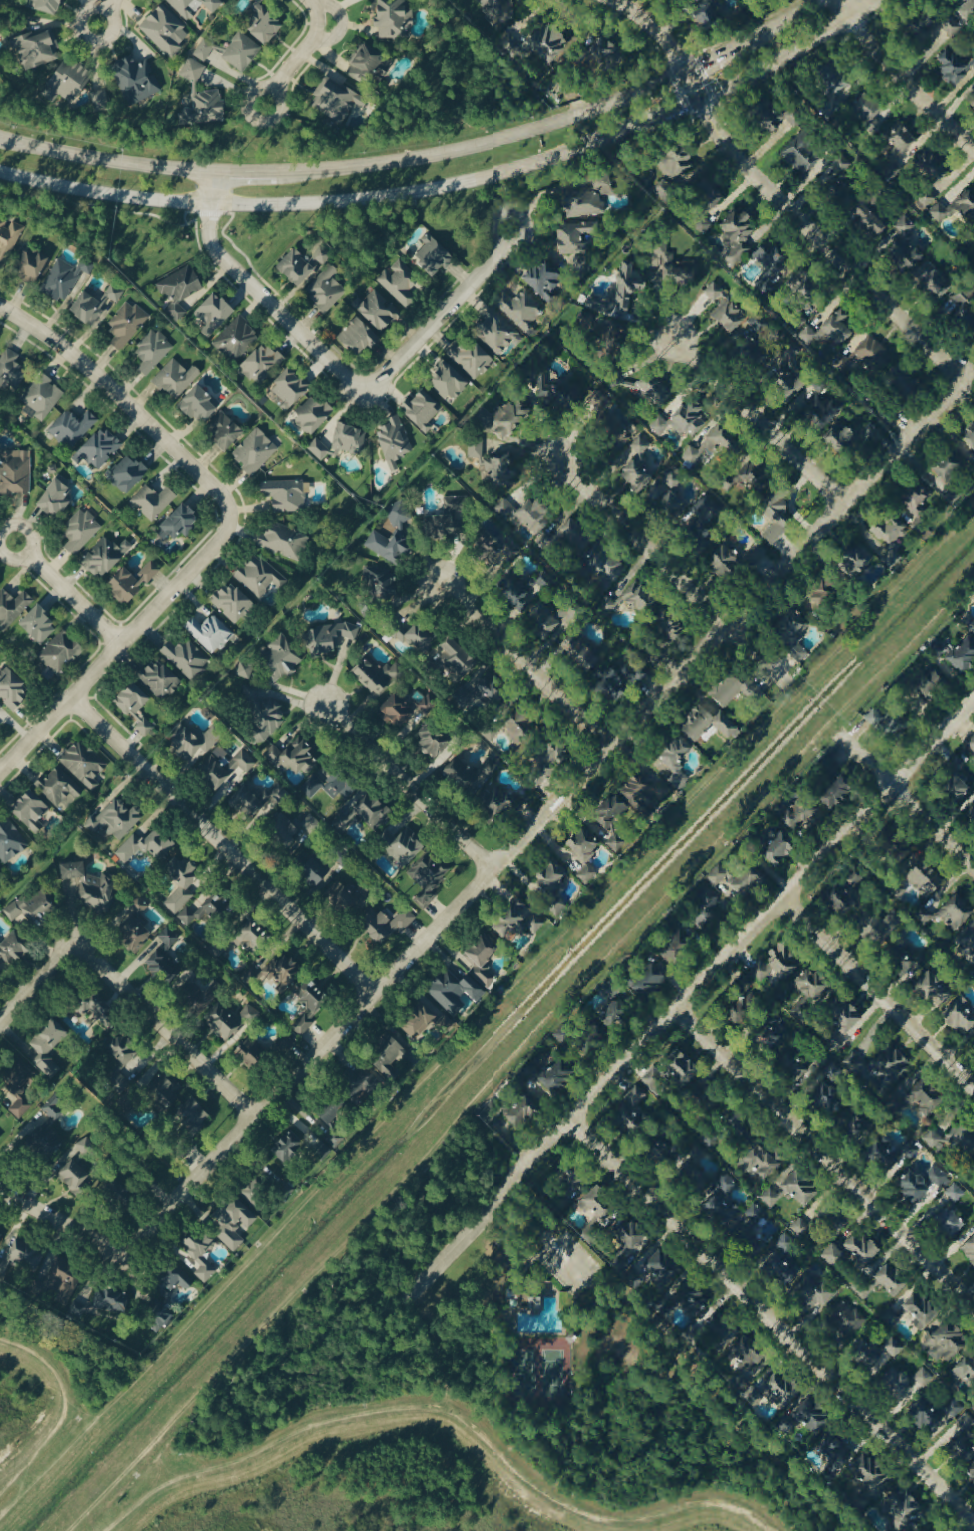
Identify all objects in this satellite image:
building: (47, 5)
building: (195, 6)
road: (843, 9)
road: (863, 9)
building: (499, 10)
building: (969, 11)
road: (106, 12)
building: (712, 17)
building: (395, 18)
building: (265, 22)
building: (943, 25)
building: (166, 31)
road: (663, 39)
building: (38, 48)
building: (205, 49)
building: (609, 49)
building: (244, 51)
road: (304, 52)
road: (775, 60)
building: (370, 63)
building: (973, 64)
building: (955, 67)
traffic signals: (686, 71)
building: (69, 80)
building: (136, 80)
building: (839, 80)
road: (908, 89)
building: (203, 96)
building: (972, 98)
building: (100, 100)
building: (341, 100)
traffic signals: (701, 100)
building: (871, 108)
road: (676, 111)
building: (778, 116)
road: (529, 131)
building: (898, 149)
building: (805, 153)
road: (105, 162)
building: (679, 164)
building: (935, 166)
building: (669, 192)
building: (714, 193)
building: (590, 198)
building: (930, 199)
road: (330, 208)
building: (954, 209)
building: (873, 221)
building: (741, 226)
building: (907, 226)
building: (9, 237)
building: (575, 241)
road: (826, 246)
building: (435, 254)
building: (775, 258)
building: (32, 264)
building: (303, 265)
building: (923, 269)
building: (681, 274)
building: (66, 277)
building: (547, 279)
building: (400, 282)
building: (768, 282)
building: (632, 286)
building: (181, 289)
building: (327, 289)
road: (258, 296)
building: (97, 303)
building: (607, 307)
building: (966, 308)
building: (522, 309)
building: (378, 310)
building: (216, 311)
building: (728, 311)
road: (443, 315)
building: (127, 323)
building: (840, 328)
building: (615, 332)
building: (498, 333)
building: (358, 336)
building: (811, 337)
building: (238, 338)
building: (153, 351)
building: (867, 357)
building: (473, 358)
building: (263, 362)
building: (12, 369)
building: (177, 378)
building: (794, 378)
building: (451, 381)
building: (908, 382)
building: (290, 389)
building: (657, 390)
building: (563, 397)
building: (42, 398)
building: (599, 400)
building: (200, 403)
road: (124, 404)
building: (423, 410)
building: (826, 410)
building: (314, 414)
building: (509, 418)
road: (763, 419)
building: (684, 420)
building: (73, 427)
building: (226, 430)
building: (621, 435)
building: (865, 435)
building: (971, 438)
building: (342, 441)
building: (395, 441)
building: (642, 446)
building: (714, 447)
building: (99, 448)
building: (255, 451)
building: (495, 465)
building: (948, 468)
building: (15, 472)
building: (130, 472)
building: (638, 474)
building: (757, 475)
building: (677, 479)
building: (663, 490)
building: (287, 495)
building: (56, 499)
building: (153, 501)
building: (920, 504)
building: (676, 505)
building: (703, 514)
building: (528, 515)
building: (453, 516)
building: (780, 517)
building: (180, 522)
building: (80, 531)
building: (375, 531)
building: (892, 531)
building: (571, 538)
building: (283, 540)
building: (507, 549)
building: (106, 556)
building: (739, 559)
building: (893, 560)
building: (861, 563)
building: (609, 569)
road: (671, 573)
building: (259, 577)
building: (379, 578)
building: (133, 582)
building: (0, 585)
building: (528, 589)
building: (824, 593)
road: (68, 594)
building: (642, 598)
building: (233, 603)
building: (610, 606)
building: (13, 607)
building: (553, 621)
building: (41, 624)
building: (676, 628)
building: (209, 633)
building: (422, 635)
building: (794, 636)
building: (334, 637)
road: (118, 646)
building: (64, 652)
building: (582, 653)
building: (459, 656)
building: (965, 656)
building: (280, 657)
building: (187, 659)
road: (527, 666)
building: (248, 668)
building: (378, 675)
building: (163, 680)
building: (617, 680)
building: (932, 683)
building: (13, 689)
building: (729, 690)
building: (484, 695)
building: (405, 708)
building: (1, 709)
building: (274, 709)
building: (138, 710)
building: (520, 723)
building: (709, 725)
building: (0, 728)
building: (193, 740)
building: (436, 741)
building: (972, 744)
building: (302, 758)
building: (555, 759)
building: (679, 762)
building: (226, 765)
building: (959, 765)
building: (488, 770)
building: (830, 770)
building: (74, 776)
building: (344, 784)
road: (410, 788)
building: (961, 789)
building: (843, 793)
building: (637, 799)
building: (500, 802)
road: (905, 804)
building: (373, 810)
building: (973, 811)
building: (32, 812)
building: (800, 813)
building: (122, 818)
road: (542, 818)
building: (615, 822)
building: (11, 843)
road: (222, 845)
building: (587, 845)
building: (148, 847)
building: (780, 847)
building: (408, 848)
building: (183, 875)
building: (430, 875)
building: (589, 875)
building: (553, 878)
building: (728, 879)
building: (856, 880)
building: (929, 880)
building: (709, 897)
building: (846, 901)
building: (223, 908)
building: (36, 912)
building: (958, 913)
building: (191, 915)
building: (896, 920)
building: (518, 925)
building: (390, 926)
building: (256, 932)
building: (171, 936)
building: (967, 942)
building: (13, 955)
building: (674, 955)
building: (907, 959)
building: (483, 961)
building: (788, 961)
building: (167, 964)
building: (285, 973)
building: (763, 973)
road: (36, 983)
building: (653, 983)
building: (745, 985)
building: (616, 989)
building: (937, 990)
building: (811, 992)
building: (458, 993)
road: (878, 997)
road: (687, 1000)
building: (309, 1009)
road: (487, 1011)
building: (973, 1011)
building: (848, 1016)
building: (620, 1017)
building: (962, 1017)
building: (243, 1018)
road: (164, 1031)
building: (567, 1037)
building: (837, 1043)
building: (973, 1049)
road: (517, 1053)
building: (398, 1062)
building: (855, 1063)
building: (670, 1064)
building: (786, 1066)
building: (887, 1066)
building: (831, 1072)
building: (530, 1080)
building: (648, 1080)
building: (368, 1095)
building: (630, 1097)
building: (816, 1098)
building: (908, 1104)
building: (21, 1109)
building: (335, 1112)
building: (513, 1112)
building: (620, 1118)
building: (933, 1141)
building: (963, 1142)
building: (292, 1148)
building: (653, 1150)
building: (67, 1151)
building: (905, 1152)
road: (825, 1159)
building: (973, 1162)
building: (878, 1163)
building: (754, 1165)
building: (935, 1177)
building: (686, 1180)
building: (906, 1188)
building: (791, 1190)
building: (954, 1194)
building: (769, 1198)
building: (721, 1200)
building: (587, 1207)
building: (755, 1214)
building: (942, 1223)
road: (61, 1225)
building: (830, 1226)
building: (237, 1227)
building: (798, 1229)
building: (2, 1233)
road: (546, 1236)
building: (744, 1239)
building: (784, 1243)
building: (618, 1245)
building: (857, 1249)
building: (967, 1250)
building: (29, 1253)
building: (203, 1256)
building: (828, 1257)
building: (655, 1271)
building: (776, 1271)
building: (633, 1280)
building: (884, 1282)
building: (865, 1290)
building: (812, 1295)
building: (528, 1298)
building: (683, 1299)
building: (908, 1314)
road: (772, 1323)
building: (942, 1344)
park: (557, 1347)
building: (870, 1355)
building: (961, 1370)
building: (747, 1373)
building: (922, 1379)
building: (891, 1387)
building: (773, 1391)
road: (64, 1410)
road: (446, 1412)
building: (919, 1418)
building: (804, 1420)
building: (964, 1424)
building: (958, 1452)
building: (830, 1455)
building: (861, 1474)
building: (969, 1474)
road: (27, 1475)
building: (896, 1511)
road: (91, 1515)
road: (105, 1528)

